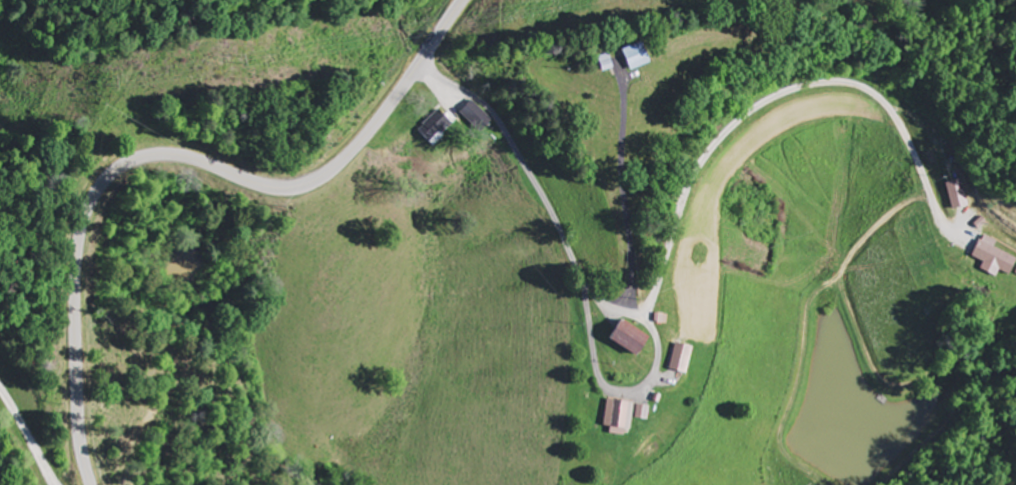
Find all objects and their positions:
building: (642, 55)
power tower: (246, 61)
power tower: (116, 83)
building: (477, 117)
building: (436, 128)
road: (172, 156)
building: (958, 195)
road: (509, 248)
building: (995, 258)
building: (630, 339)
building: (681, 359)
building: (643, 413)
building: (619, 418)
road: (39, 420)

